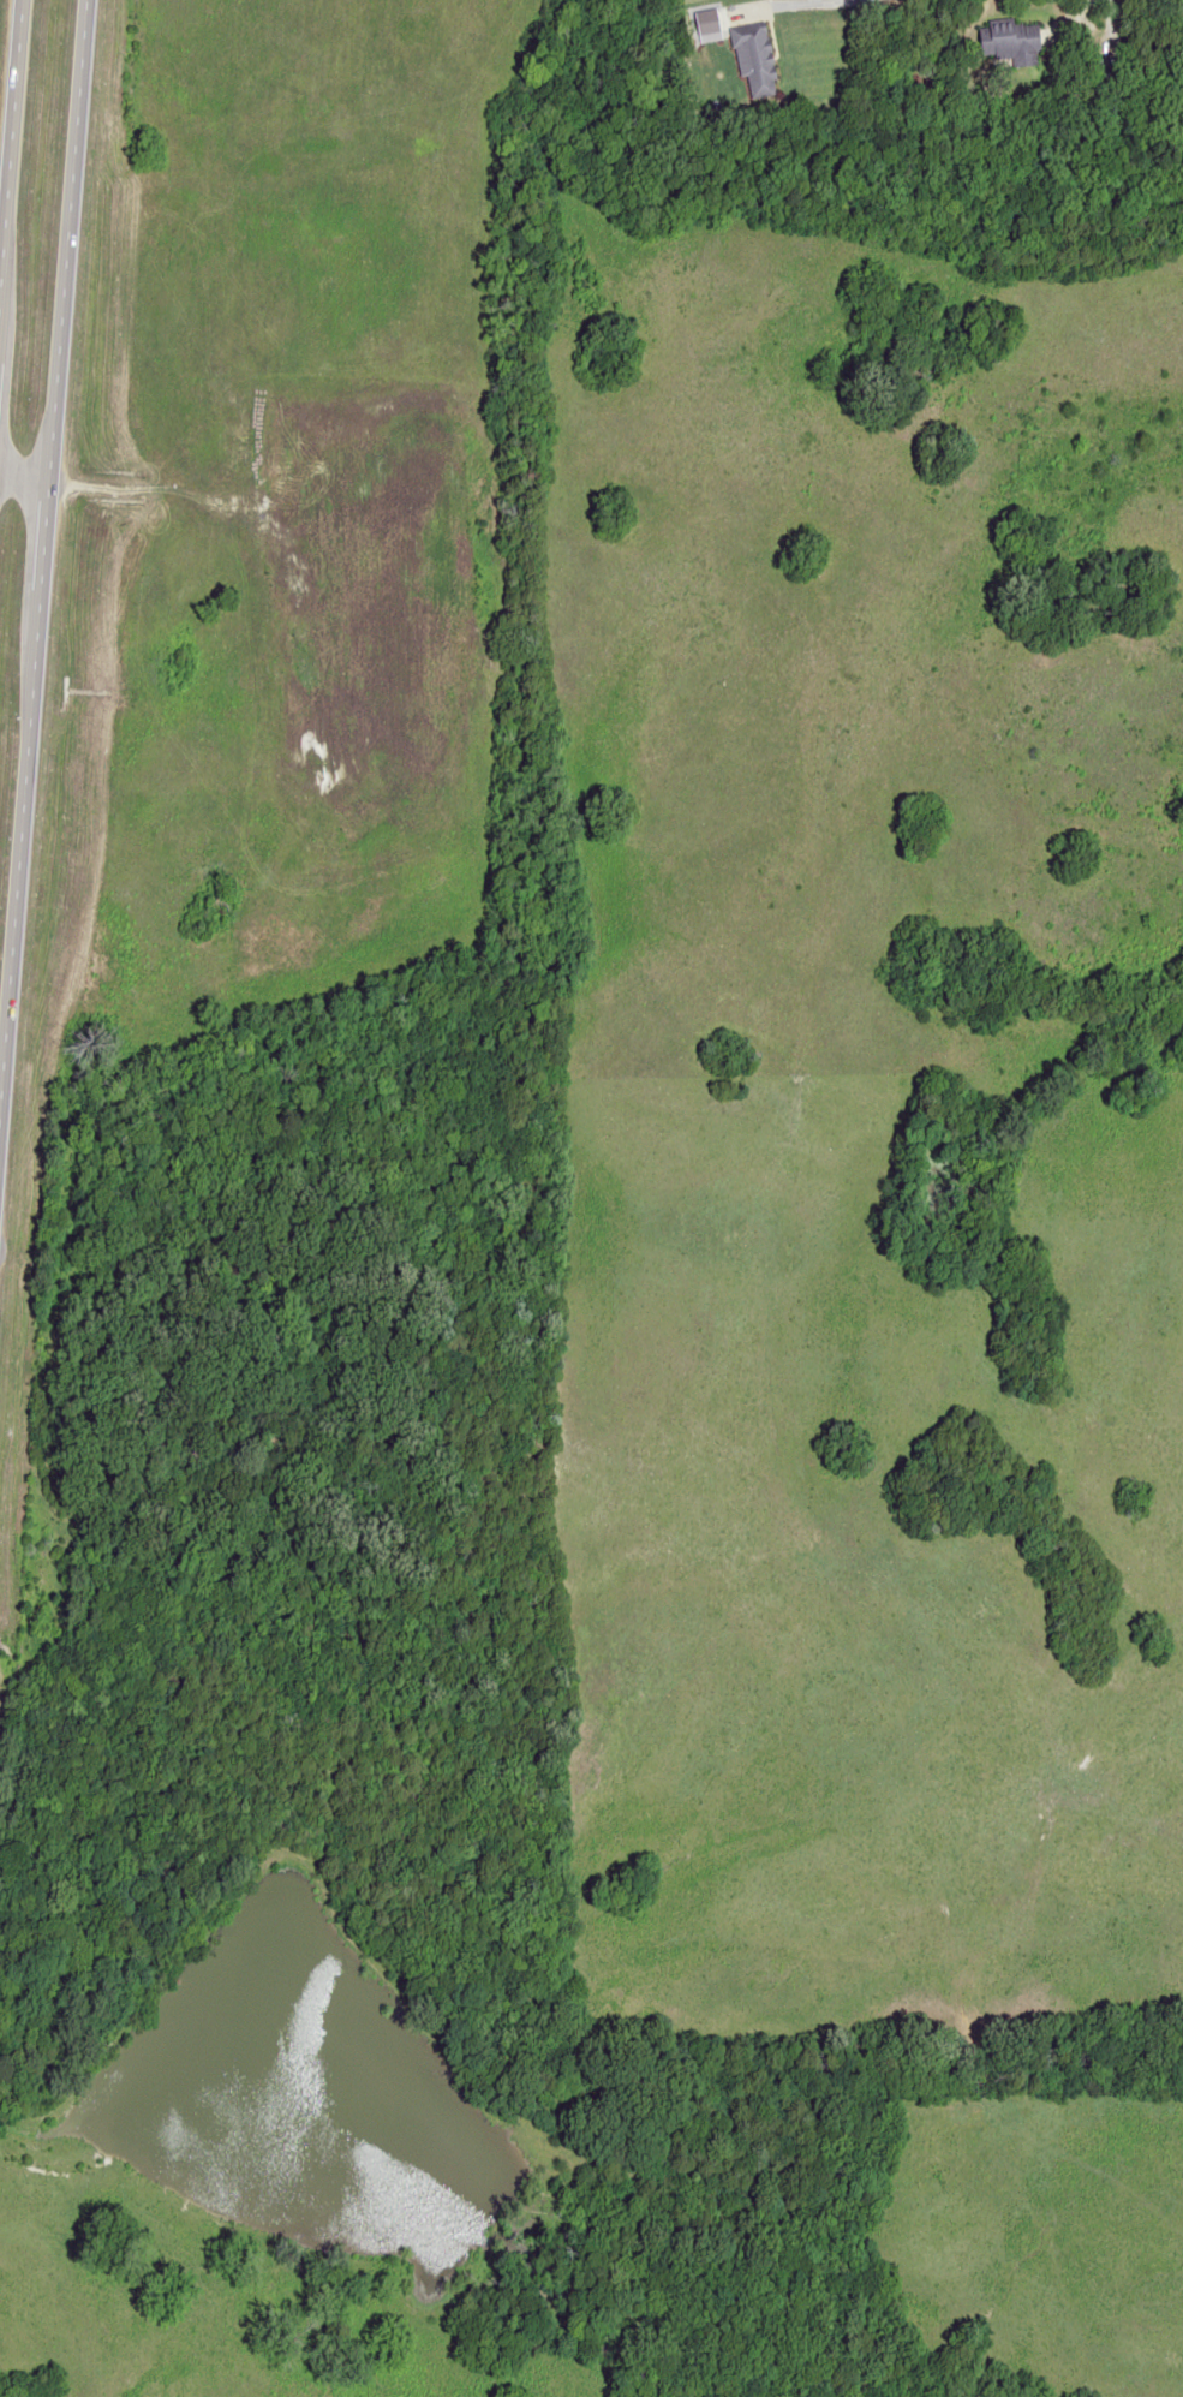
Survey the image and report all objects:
road: (789, 6)
building: (1012, 42)
building: (753, 58)
building: (1105, 72)
road: (10, 133)
road: (41, 502)

